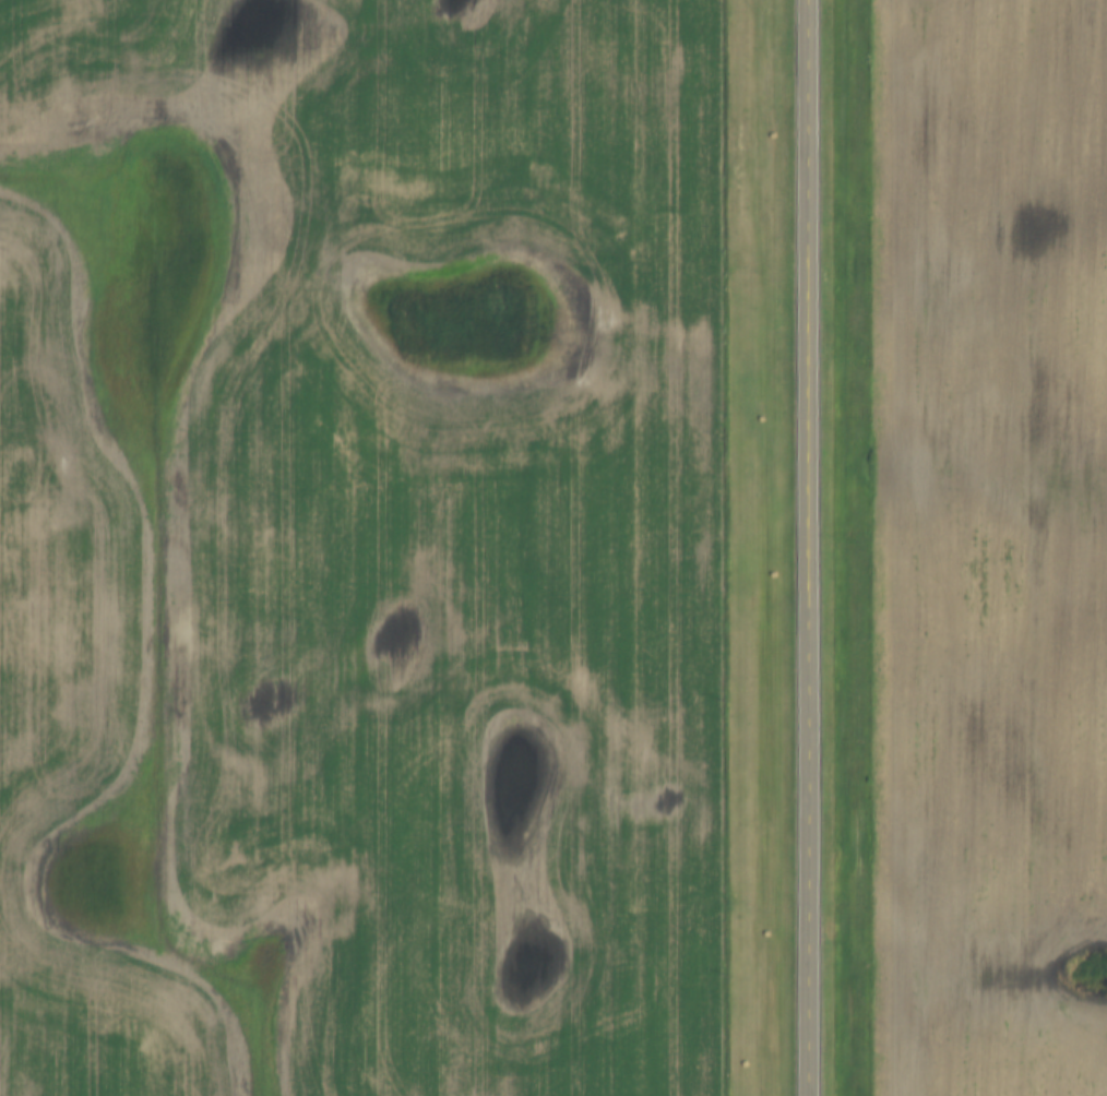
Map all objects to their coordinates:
road: (814, 548)

